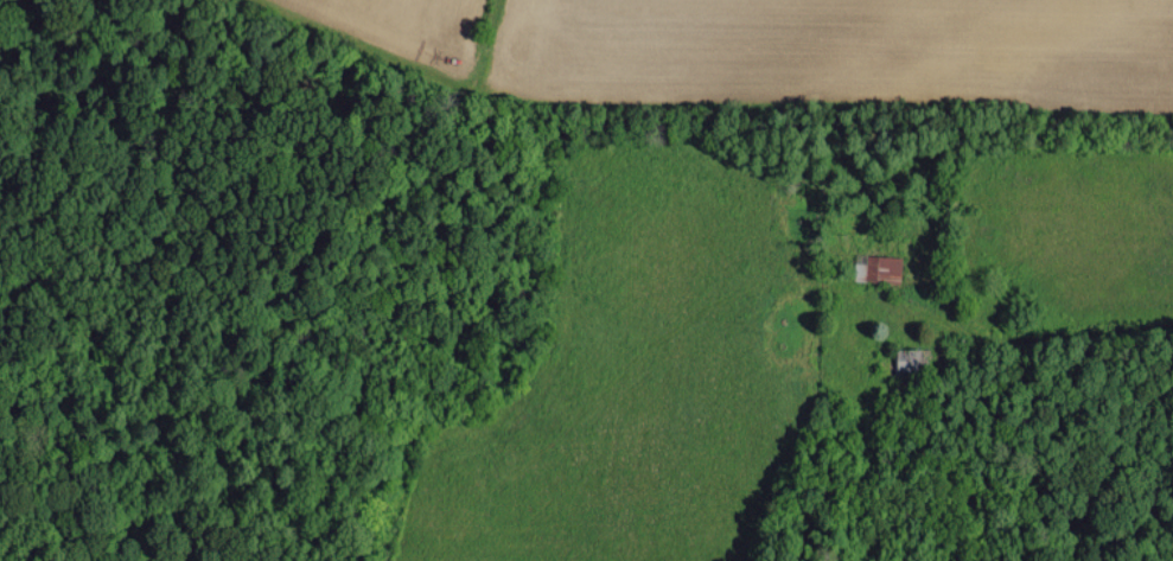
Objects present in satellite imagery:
building: (876, 267)
road: (1016, 334)

